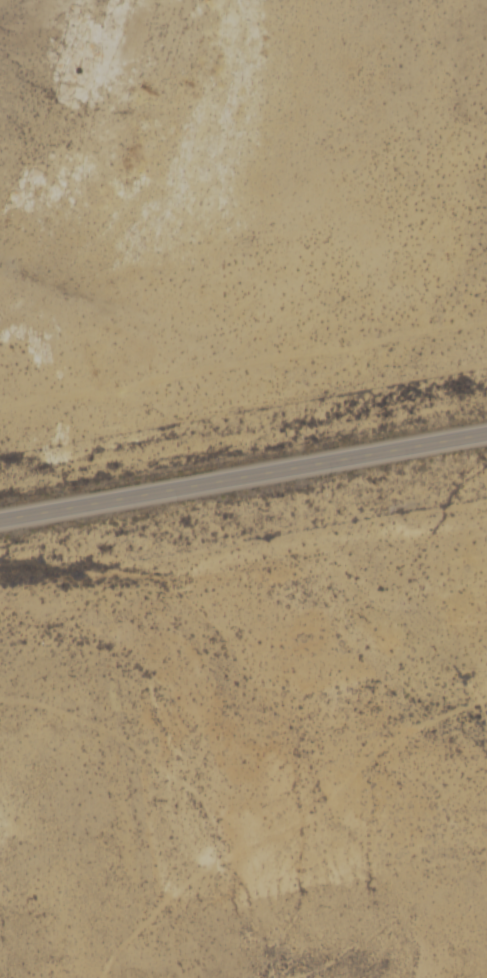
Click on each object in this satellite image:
road: (243, 475)

